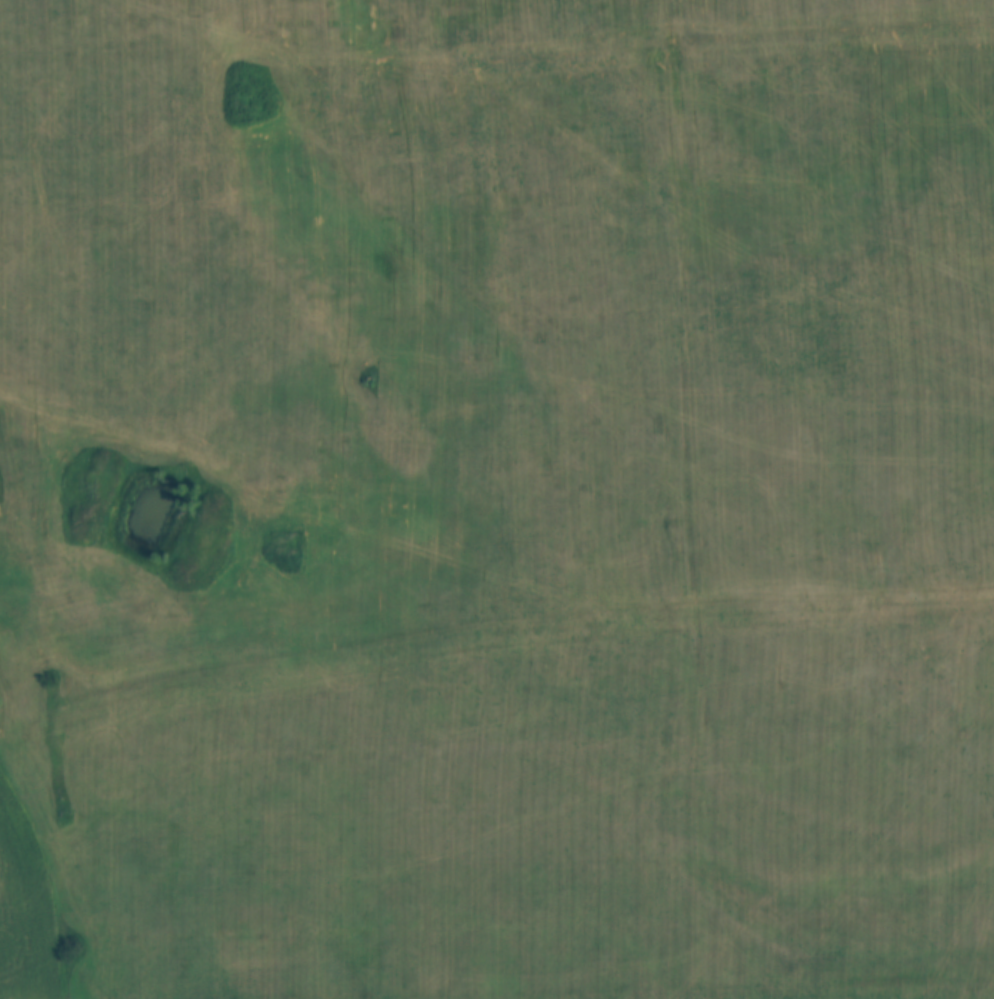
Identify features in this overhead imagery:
road: (689, 400)

